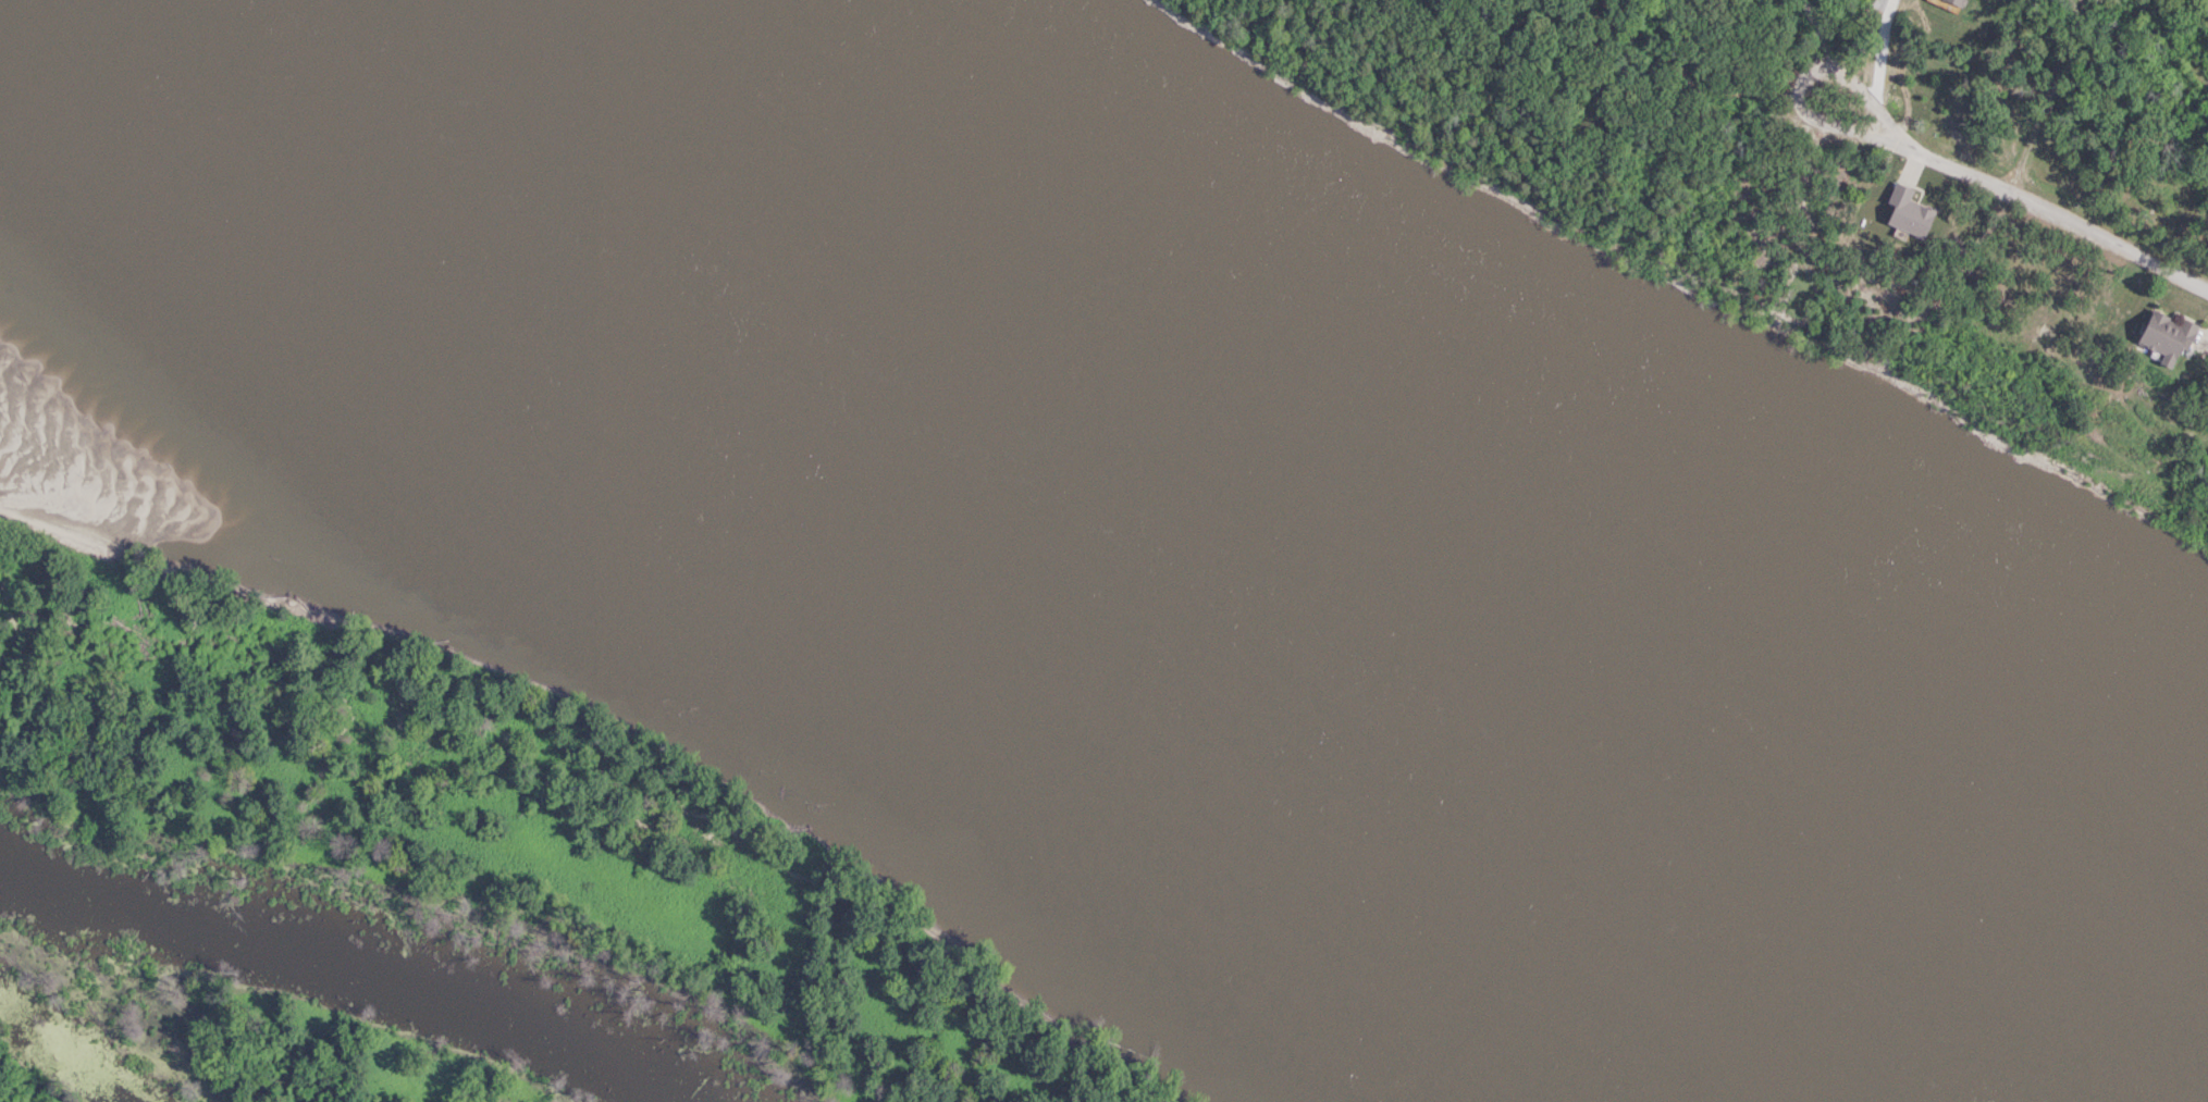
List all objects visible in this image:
building: (1950, 3)
road: (1875, 64)
road: (1817, 70)
road: (2040, 208)
building: (1902, 213)
building: (2161, 338)

